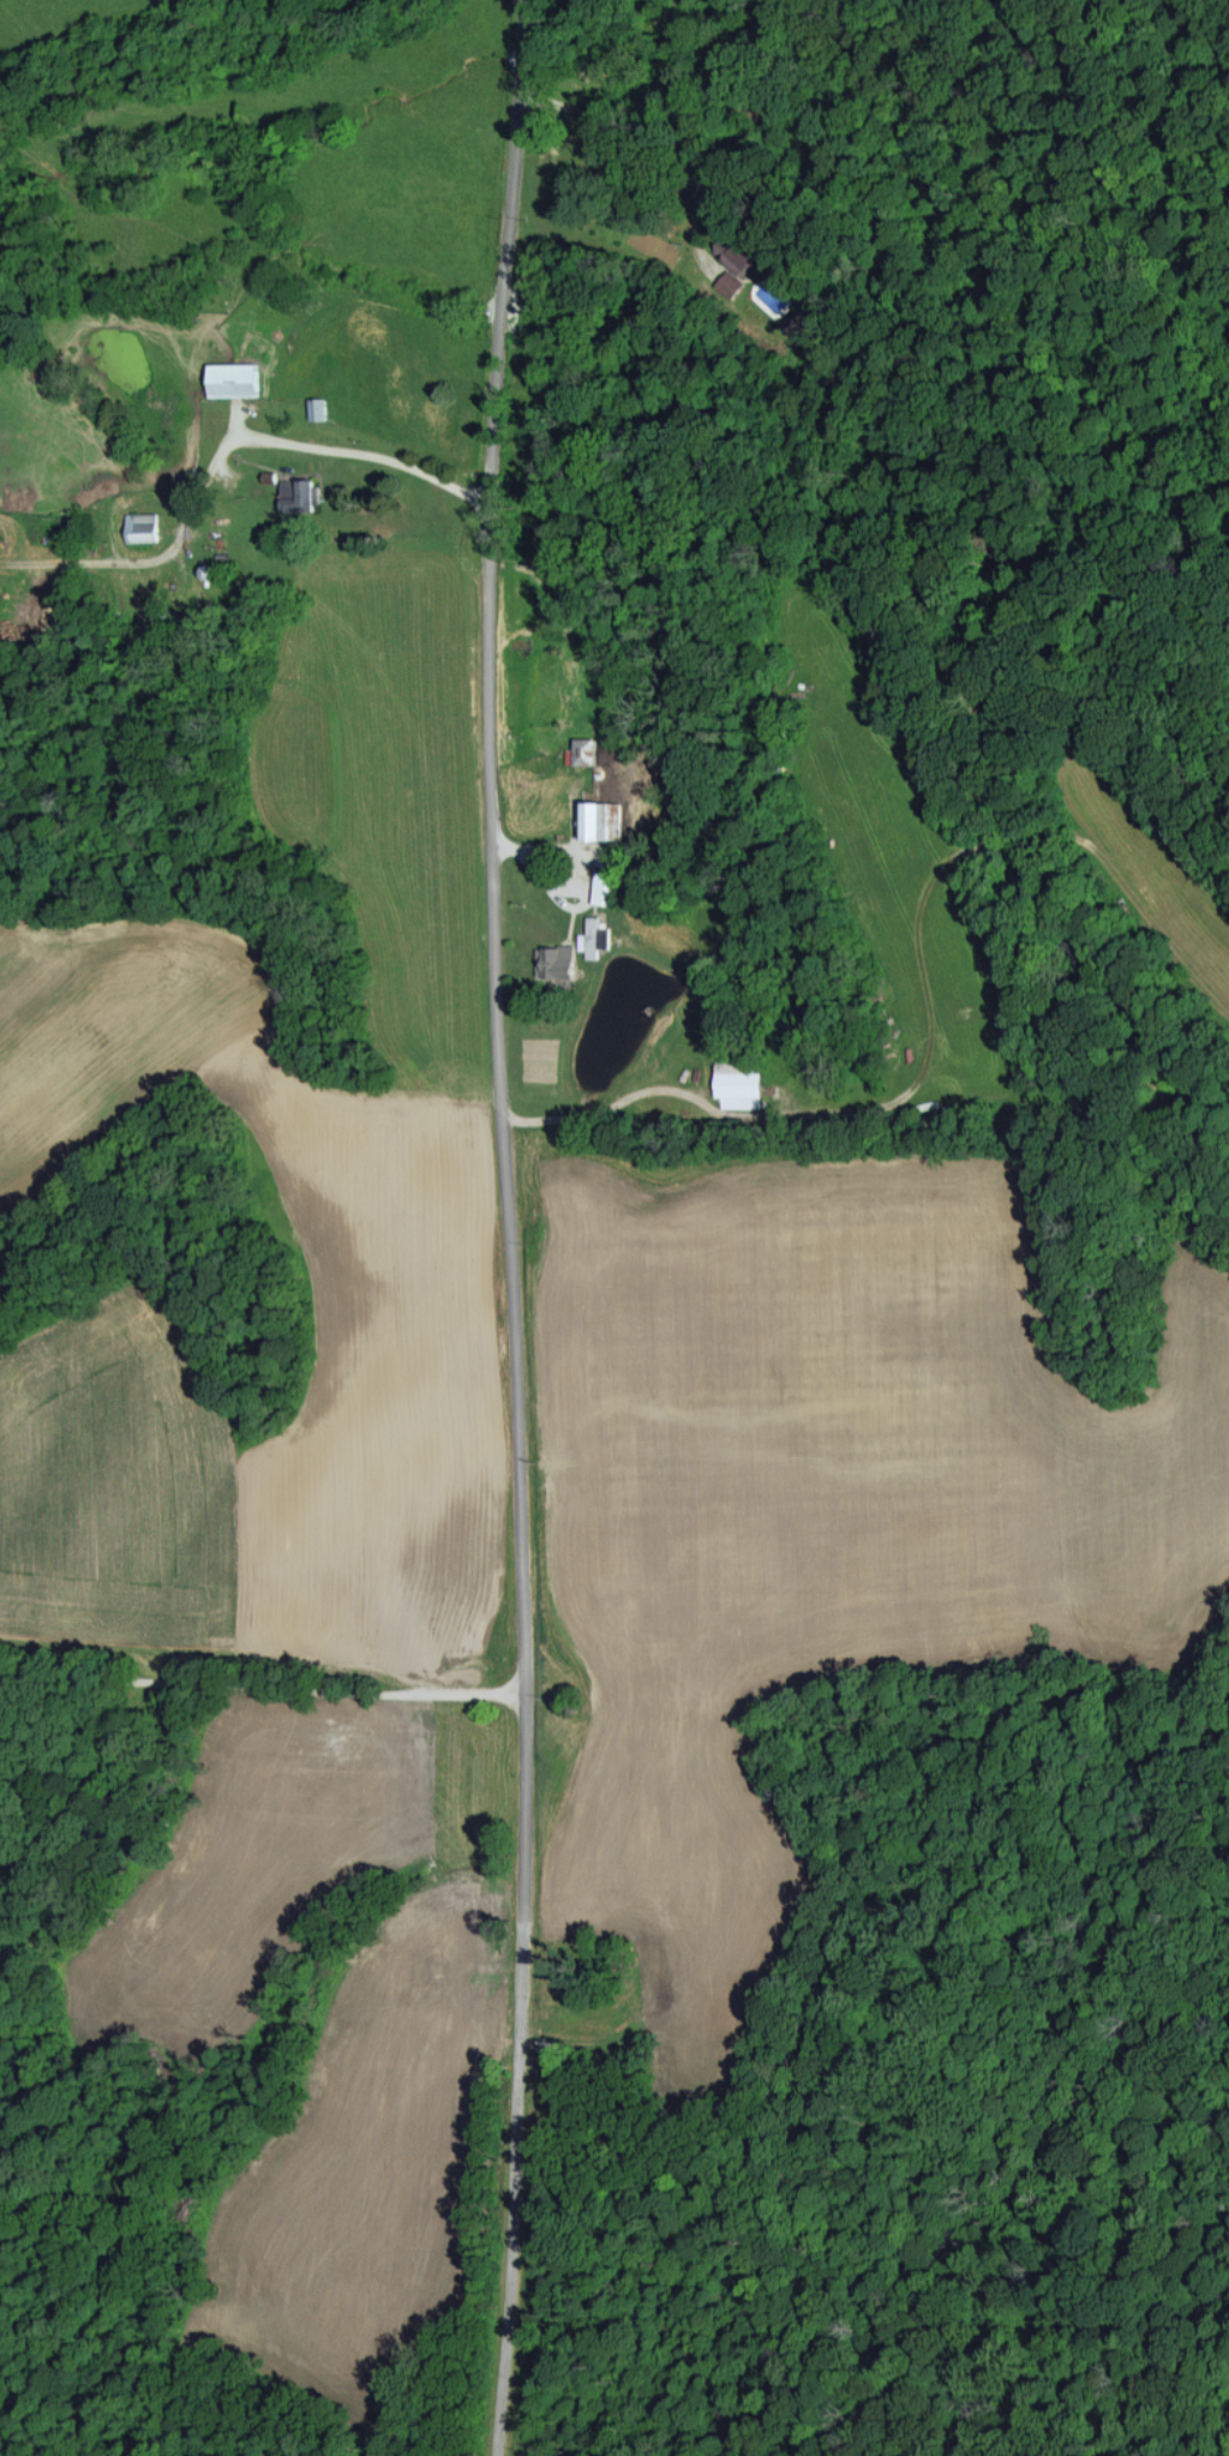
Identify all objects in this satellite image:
road: (681, 168)
road: (696, 228)
building: (233, 379)
building: (318, 408)
road: (360, 450)
building: (296, 493)
building: (592, 817)
building: (553, 960)
building: (739, 1088)
road: (596, 1092)
road: (502, 1227)
road: (264, 1681)
road: (509, 1699)

